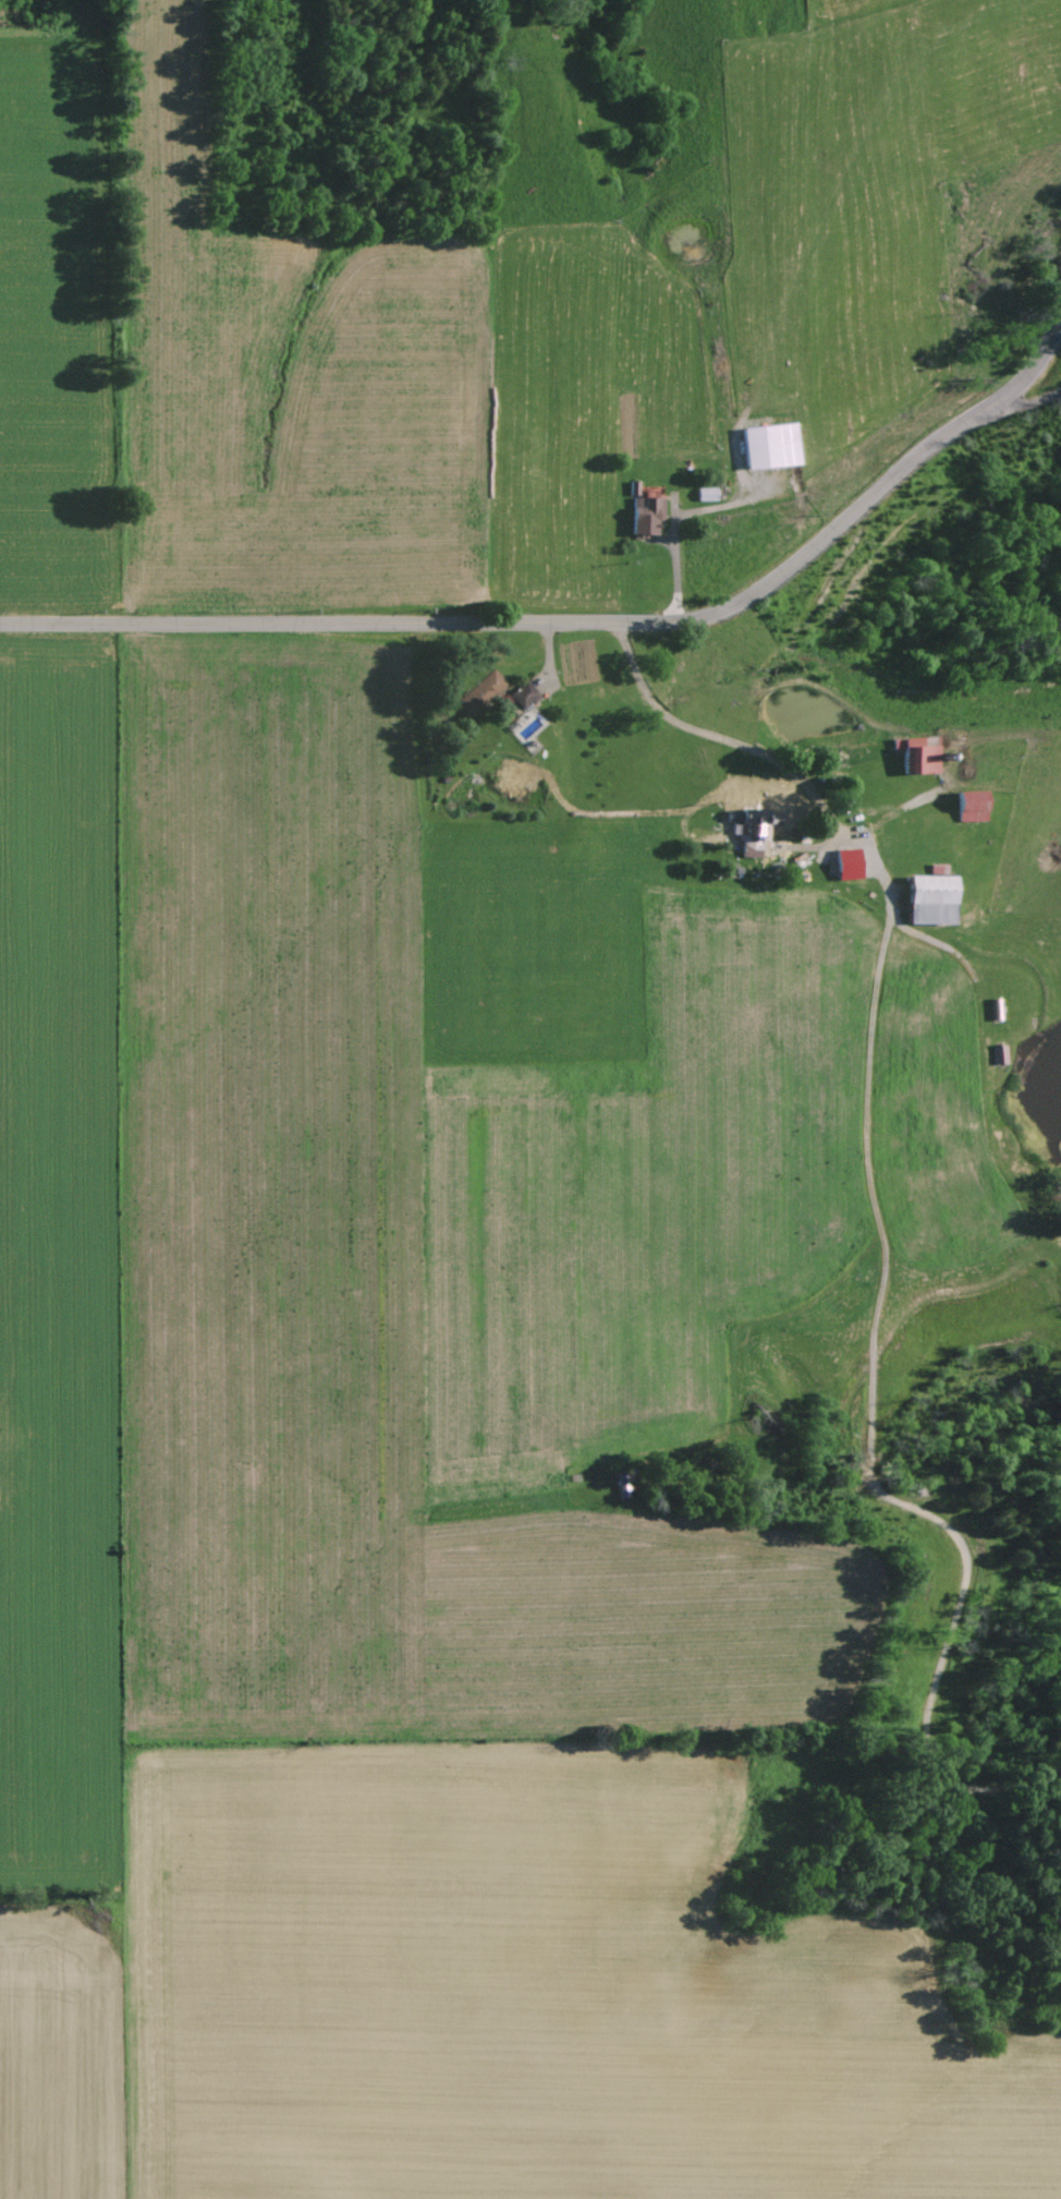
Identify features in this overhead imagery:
building: (770, 446)
building: (706, 494)
road: (599, 624)
road: (791, 659)
building: (477, 696)
building: (522, 696)
building: (919, 756)
building: (971, 807)
building: (753, 829)
building: (847, 860)
building: (931, 899)
building: (998, 1055)

